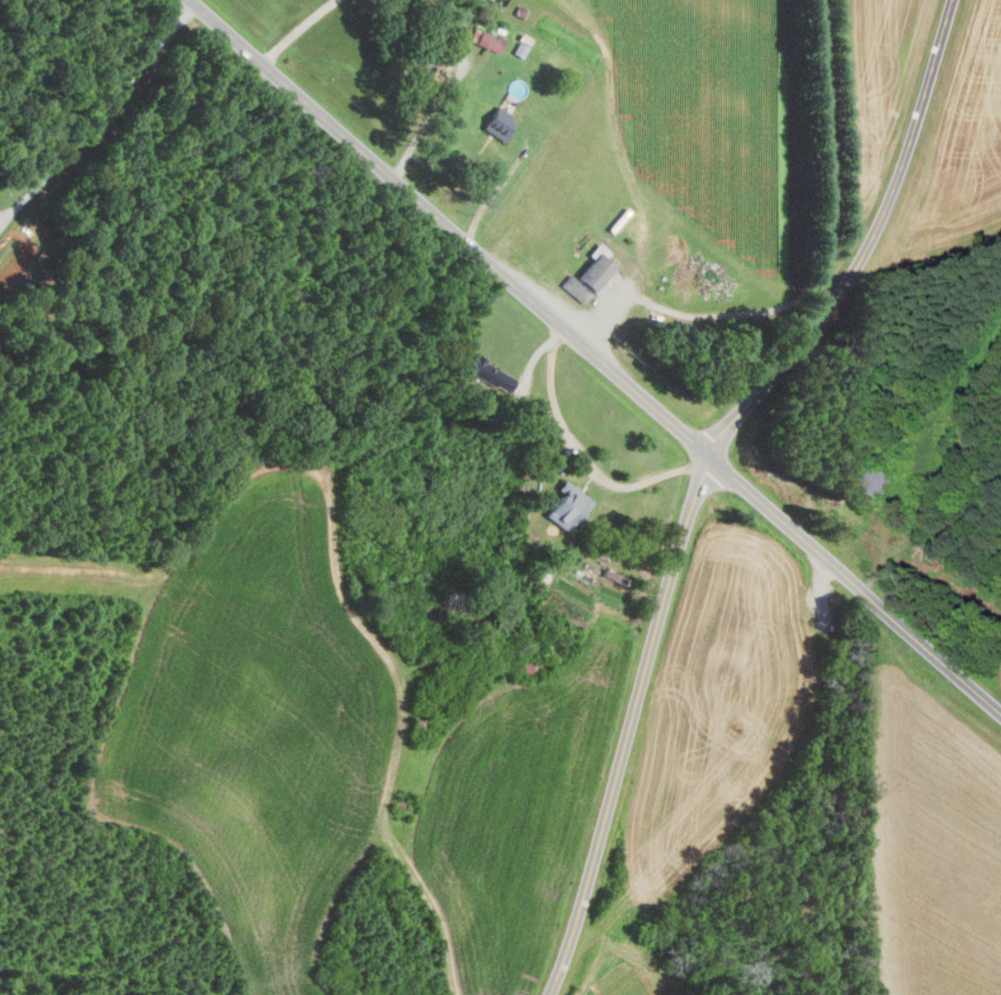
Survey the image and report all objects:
building: (520, 11)
road: (286, 34)
building: (488, 39)
building: (520, 49)
road: (437, 81)
building: (500, 123)
road: (820, 156)
road: (867, 247)
building: (589, 278)
road: (594, 356)
building: (489, 372)
road: (560, 420)
road: (663, 478)
building: (879, 478)
building: (568, 505)
building: (430, 612)
building: (530, 666)
road: (630, 725)

